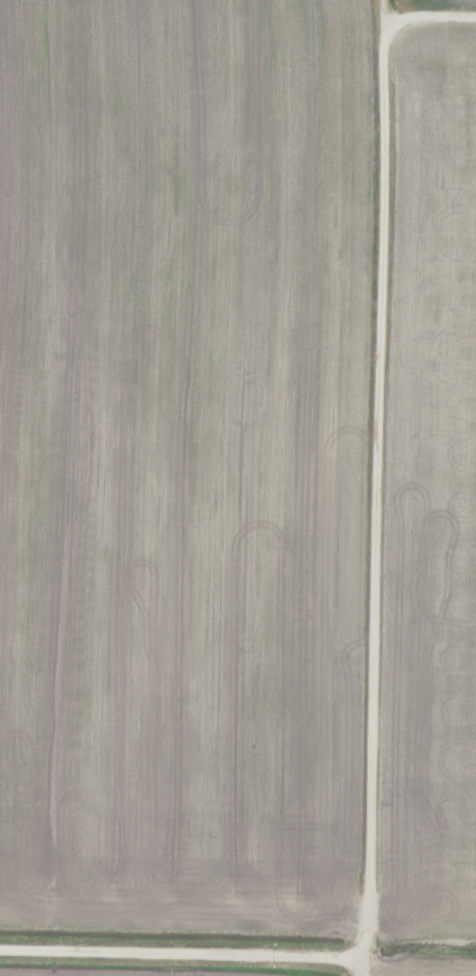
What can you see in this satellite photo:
road: (378, 510)
road: (188, 962)

